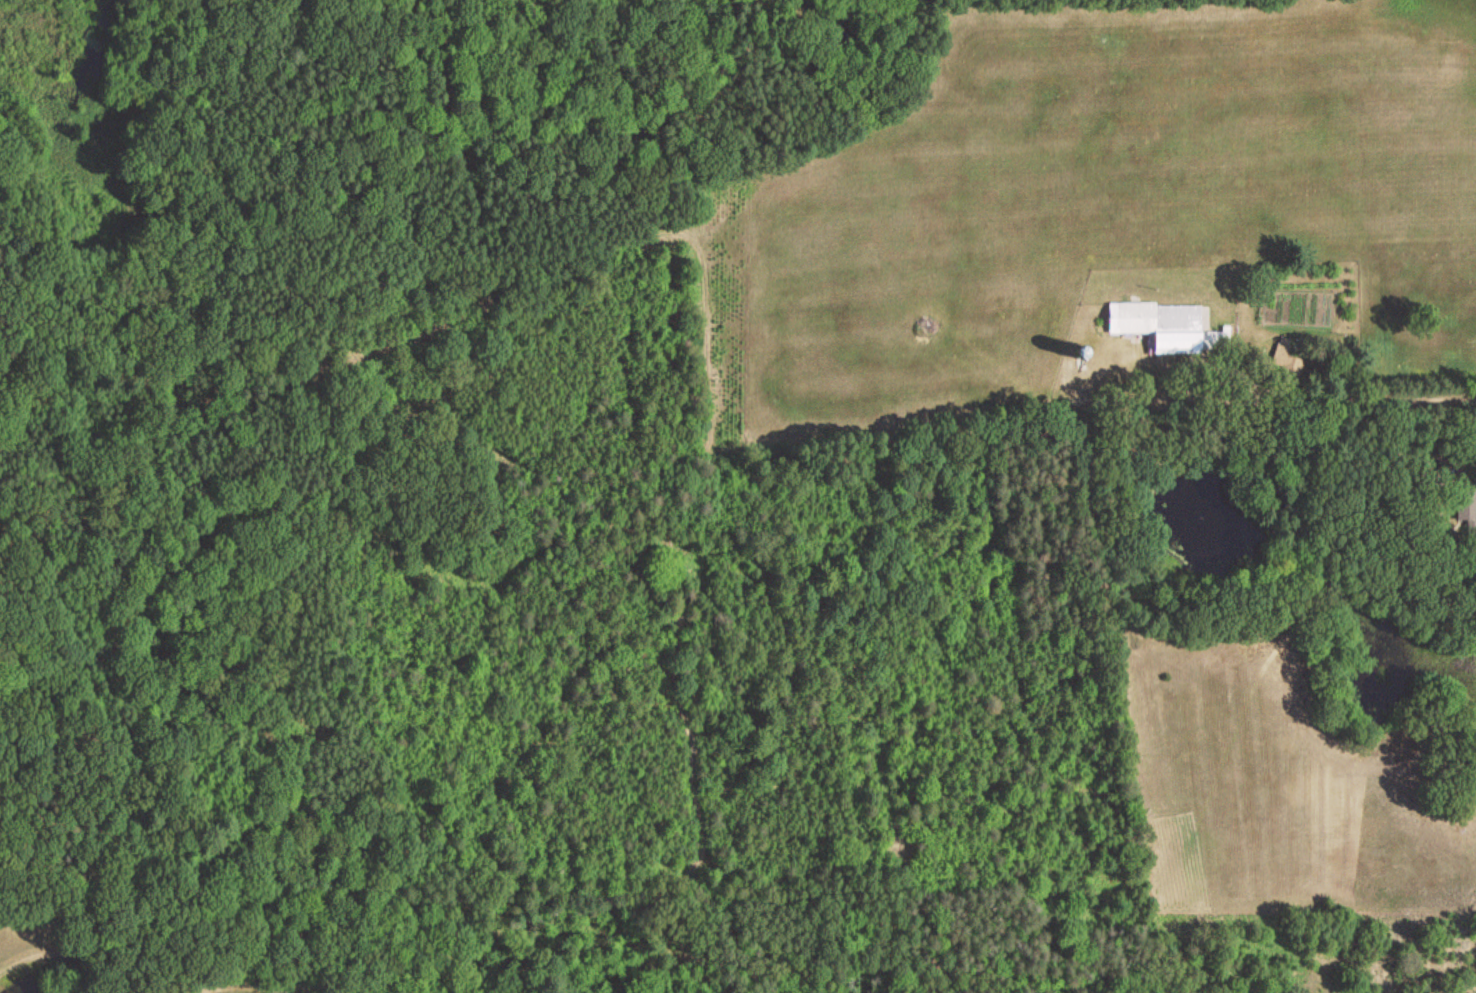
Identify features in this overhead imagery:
building: (1173, 328)
building: (1292, 352)
road: (1307, 390)
crop: (257, 989)

